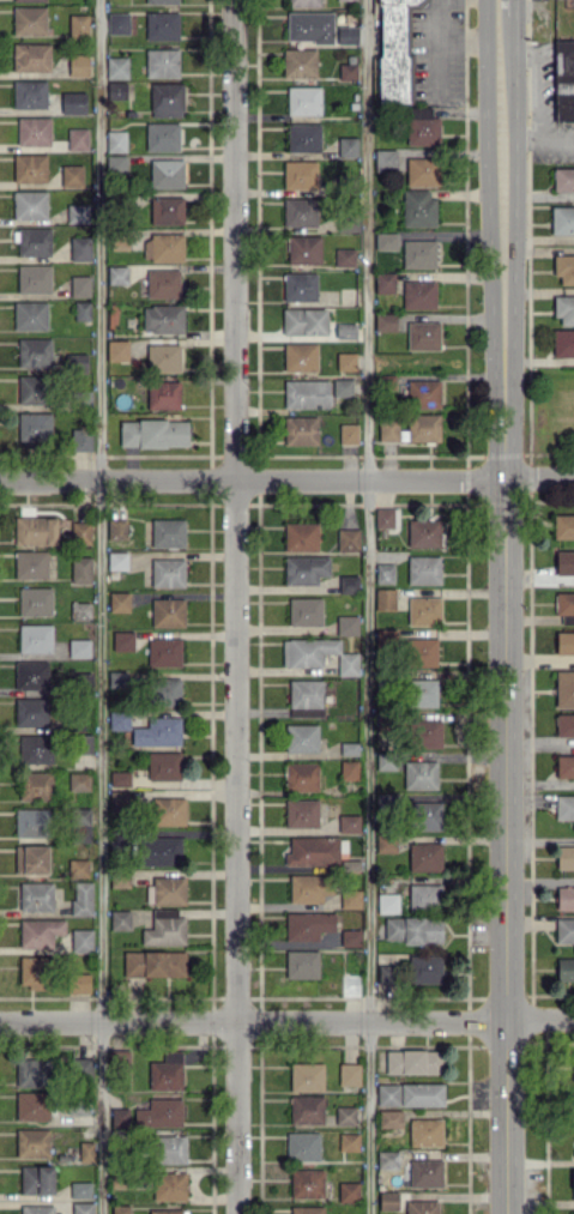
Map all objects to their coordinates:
building: (29, 0)
building: (162, 1)
building: (304, 2)
road: (499, 6)
building: (29, 20)
building: (117, 23)
building: (78, 25)
building: (162, 25)
building: (309, 26)
building: (346, 34)
road: (455, 41)
building: (395, 49)
building: (31, 58)
building: (162, 62)
building: (300, 62)
building: (79, 65)
building: (116, 67)
building: (348, 71)
road: (534, 79)
building: (563, 80)
building: (116, 90)
building: (29, 93)
building: (167, 99)
building: (303, 99)
building: (73, 102)
building: (422, 126)
building: (34, 131)
building: (162, 135)
building: (303, 137)
building: (77, 138)
road: (537, 139)
building: (115, 140)
building: (348, 146)
building: (385, 159)
building: (115, 164)
building: (30, 168)
building: (422, 170)
building: (167, 173)
building: (300, 174)
building: (72, 175)
building: (563, 179)
building: (30, 205)
building: (418, 207)
building: (167, 210)
building: (300, 212)
building: (78, 213)
building: (562, 219)
building: (348, 225)
building: (34, 241)
building: (386, 241)
building: (163, 247)
building: (80, 248)
building: (303, 249)
building: (418, 253)
building: (344, 256)
building: (564, 267)
building: (117, 274)
building: (34, 278)
building: (385, 282)
building: (163, 283)
building: (80, 285)
building: (300, 286)
building: (418, 294)
building: (564, 309)
building: (81, 310)
building: (30, 315)
building: (162, 319)
building: (304, 321)
building: (385, 321)
building: (423, 336)
building: (563, 342)
building: (117, 350)
building: (34, 352)
building: (300, 356)
building: (163, 357)
building: (74, 361)
building: (346, 361)
building: (342, 387)
building: (31, 388)
building: (306, 393)
building: (423, 393)
building: (163, 394)
building: (34, 425)
building: (411, 428)
building: (300, 430)
building: (153, 433)
building: (349, 433)
building: (79, 439)
road: (286, 478)
building: (386, 517)
building: (563, 526)
building: (116, 529)
building: (35, 531)
building: (84, 532)
building: (168, 532)
building: (423, 532)
building: (301, 537)
building: (348, 539)
building: (117, 560)
building: (564, 562)
building: (31, 564)
building: (80, 569)
building: (306, 569)
building: (423, 569)
building: (168, 572)
building: (385, 573)
building: (348, 584)
building: (385, 598)
building: (35, 600)
building: (119, 602)
building: (564, 603)
road: (99, 606)
road: (235, 606)
road: (368, 606)
building: (80, 610)
building: (424, 610)
building: (306, 611)
building: (168, 612)
road: (503, 612)
building: (346, 624)
building: (386, 636)
building: (35, 638)
building: (123, 640)
building: (564, 642)
building: (79, 647)
building: (164, 652)
building: (422, 652)
building: (318, 654)
building: (31, 675)
building: (119, 678)
building: (564, 688)
building: (164, 691)
building: (423, 693)
building: (304, 697)
building: (31, 711)
building: (119, 720)
building: (564, 724)
building: (158, 732)
building: (427, 733)
building: (301, 737)
building: (83, 744)
building: (35, 748)
building: (349, 748)
building: (386, 760)
building: (163, 766)
building: (564, 766)
building: (349, 769)
building: (421, 774)
building: (301, 775)
building: (120, 779)
building: (79, 780)
building: (34, 785)
building: (564, 808)
building: (169, 811)
building: (301, 813)
building: (425, 815)
building: (31, 822)
building: (83, 822)
building: (349, 823)
building: (386, 844)
building: (161, 851)
building: (313, 851)
building: (424, 856)
building: (566, 857)
building: (31, 858)
building: (78, 866)
building: (308, 887)
building: (168, 890)
building: (36, 895)
building: (425, 895)
building: (564, 896)
building: (81, 898)
building: (350, 899)
building: (387, 902)
building: (120, 919)
building: (308, 924)
building: (164, 928)
building: (413, 929)
building: (564, 930)
building: (40, 931)
building: (350, 937)
building: (81, 940)
building: (153, 962)
building: (302, 964)
building: (564, 968)
building: (413, 971)
building: (32, 972)
building: (79, 983)
road: (286, 1020)
building: (413, 1061)
building: (572, 1065)
building: (32, 1071)
building: (167, 1071)
building: (349, 1074)
building: (306, 1076)
building: (410, 1094)
building: (31, 1105)
building: (306, 1109)
building: (159, 1113)
building: (345, 1115)
building: (120, 1117)
building: (389, 1118)
building: (425, 1131)
building: (349, 1141)
building: (32, 1142)
building: (302, 1146)
building: (169, 1148)
building: (86, 1150)
building: (387, 1159)
building: (425, 1173)
building: (36, 1179)
building: (307, 1183)
building: (573, 1183)
building: (169, 1185)
building: (80, 1189)
building: (348, 1191)
building: (388, 1201)
building: (422, 1207)
building: (81, 1208)
building: (37, 1209)
building: (120, 1209)
building: (307, 1209)
building: (167, 1212)
building: (573, 1212)

